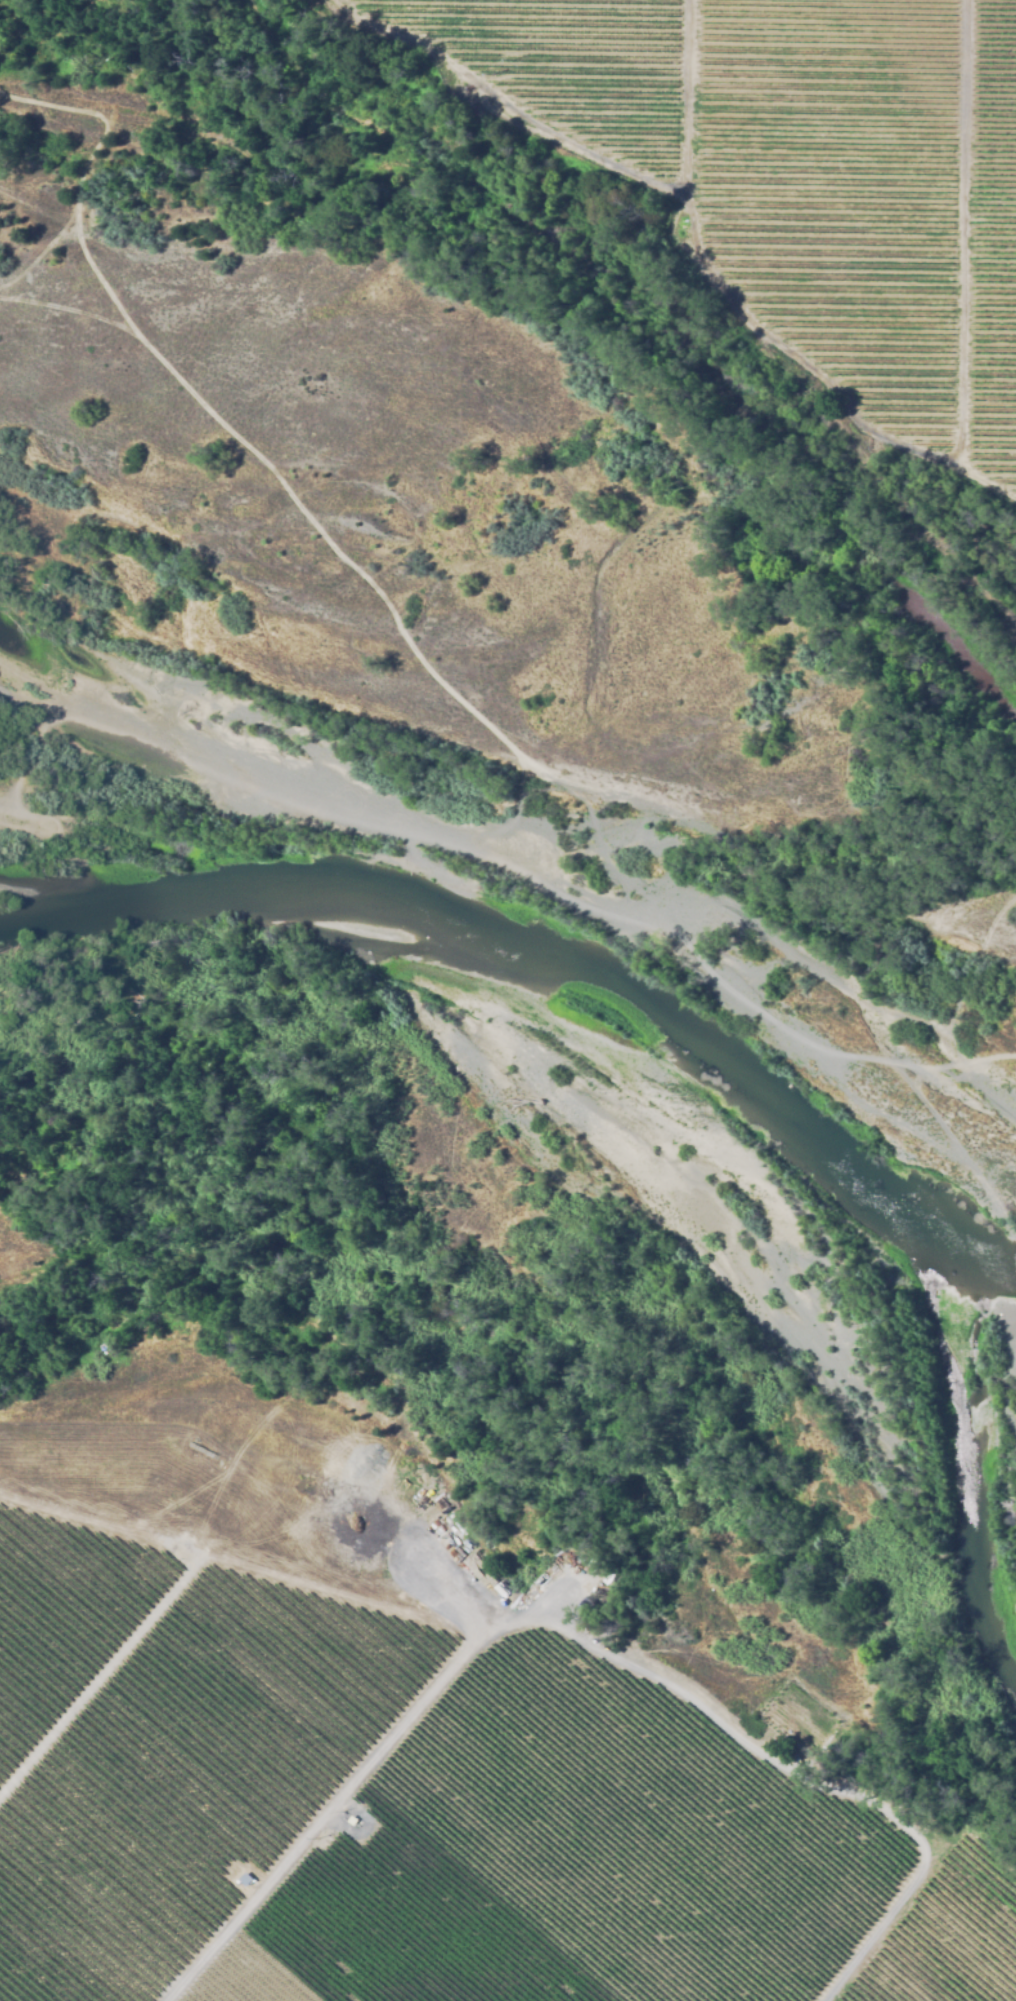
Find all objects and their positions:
river: (612, 1038)
building: (502, 1591)
building: (584, 1608)
road: (347, 1791)
building: (352, 1819)
building: (245, 1883)

